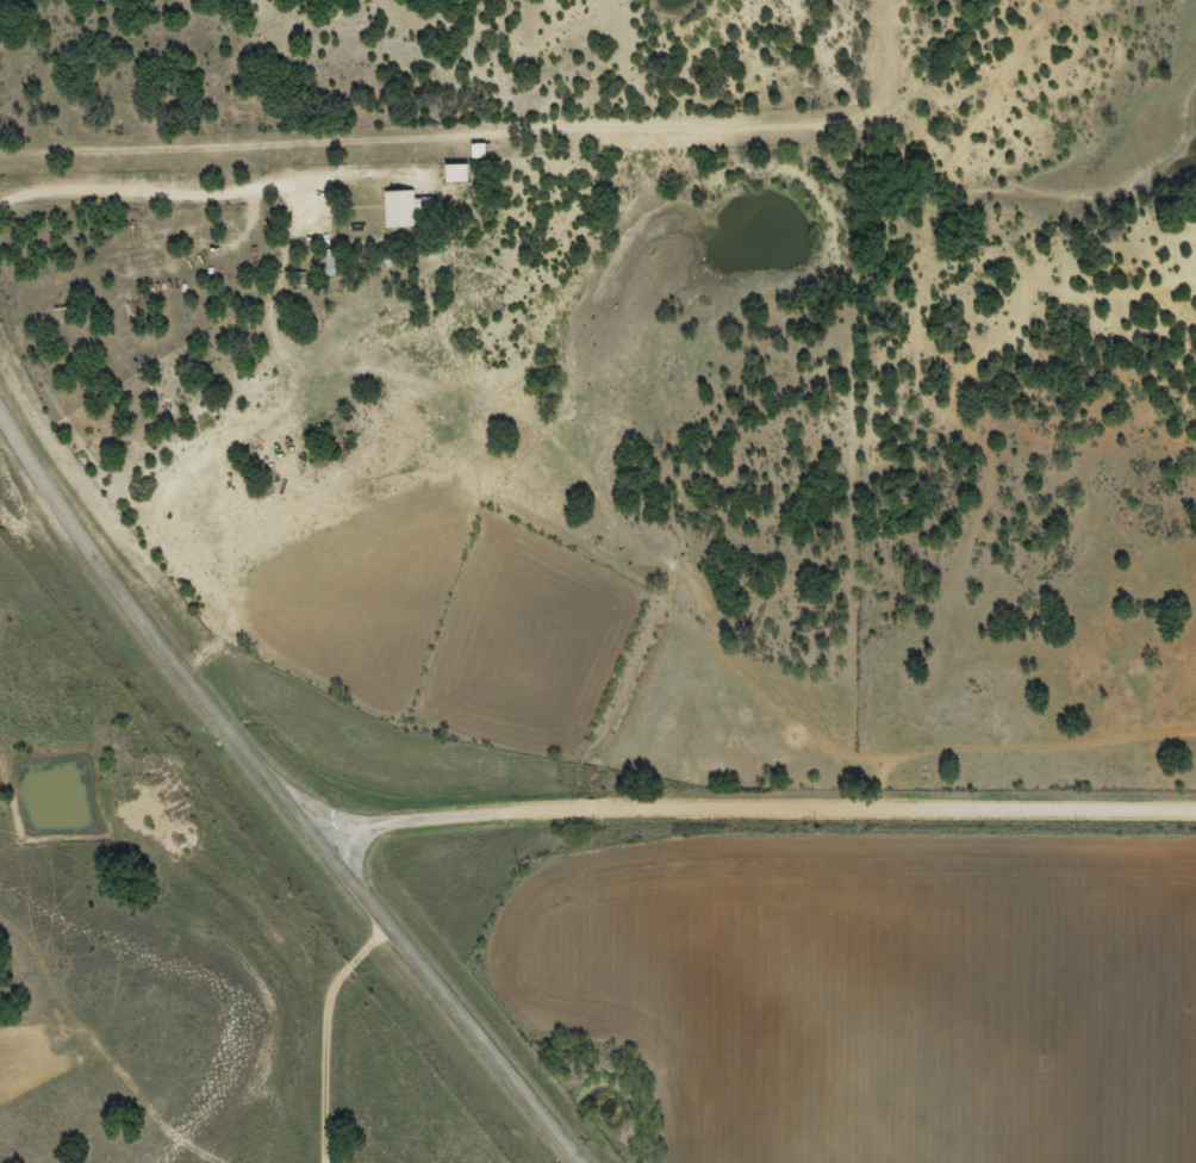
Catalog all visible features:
building: (456, 175)
building: (404, 210)
building: (330, 263)
road: (286, 789)
road: (766, 839)
road: (341, 1005)

